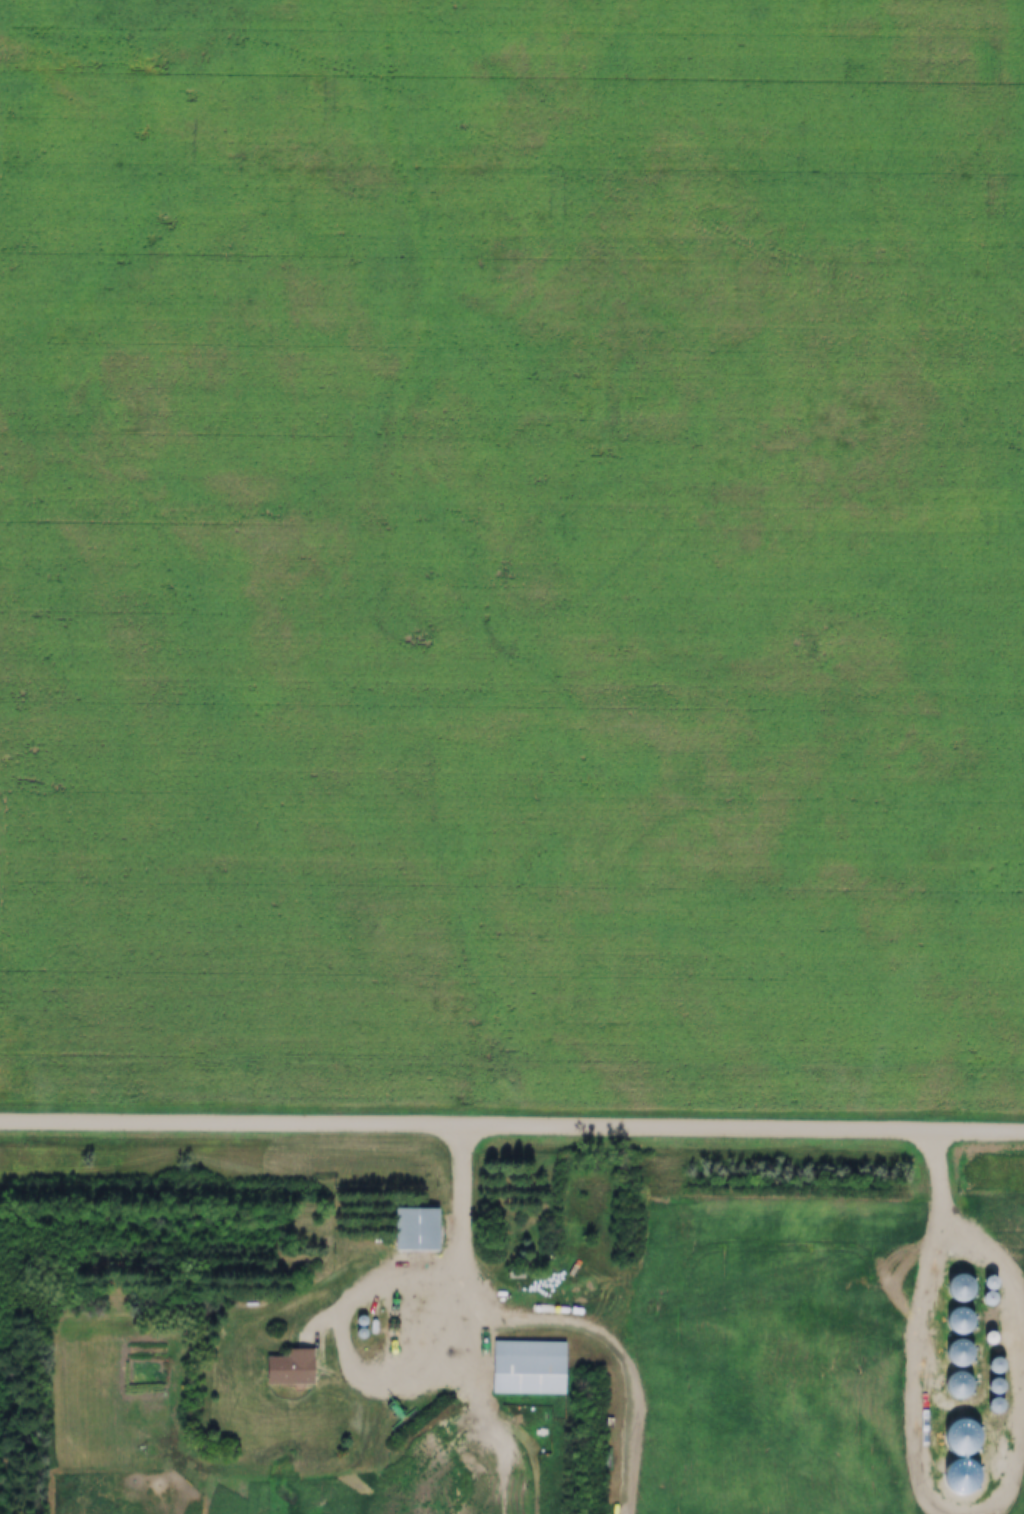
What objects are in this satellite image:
road: (512, 1127)
building: (412, 1230)
building: (952, 1289)
building: (952, 1322)
building: (284, 1368)
building: (523, 1368)
road: (403, 1385)
road: (363, 1454)

